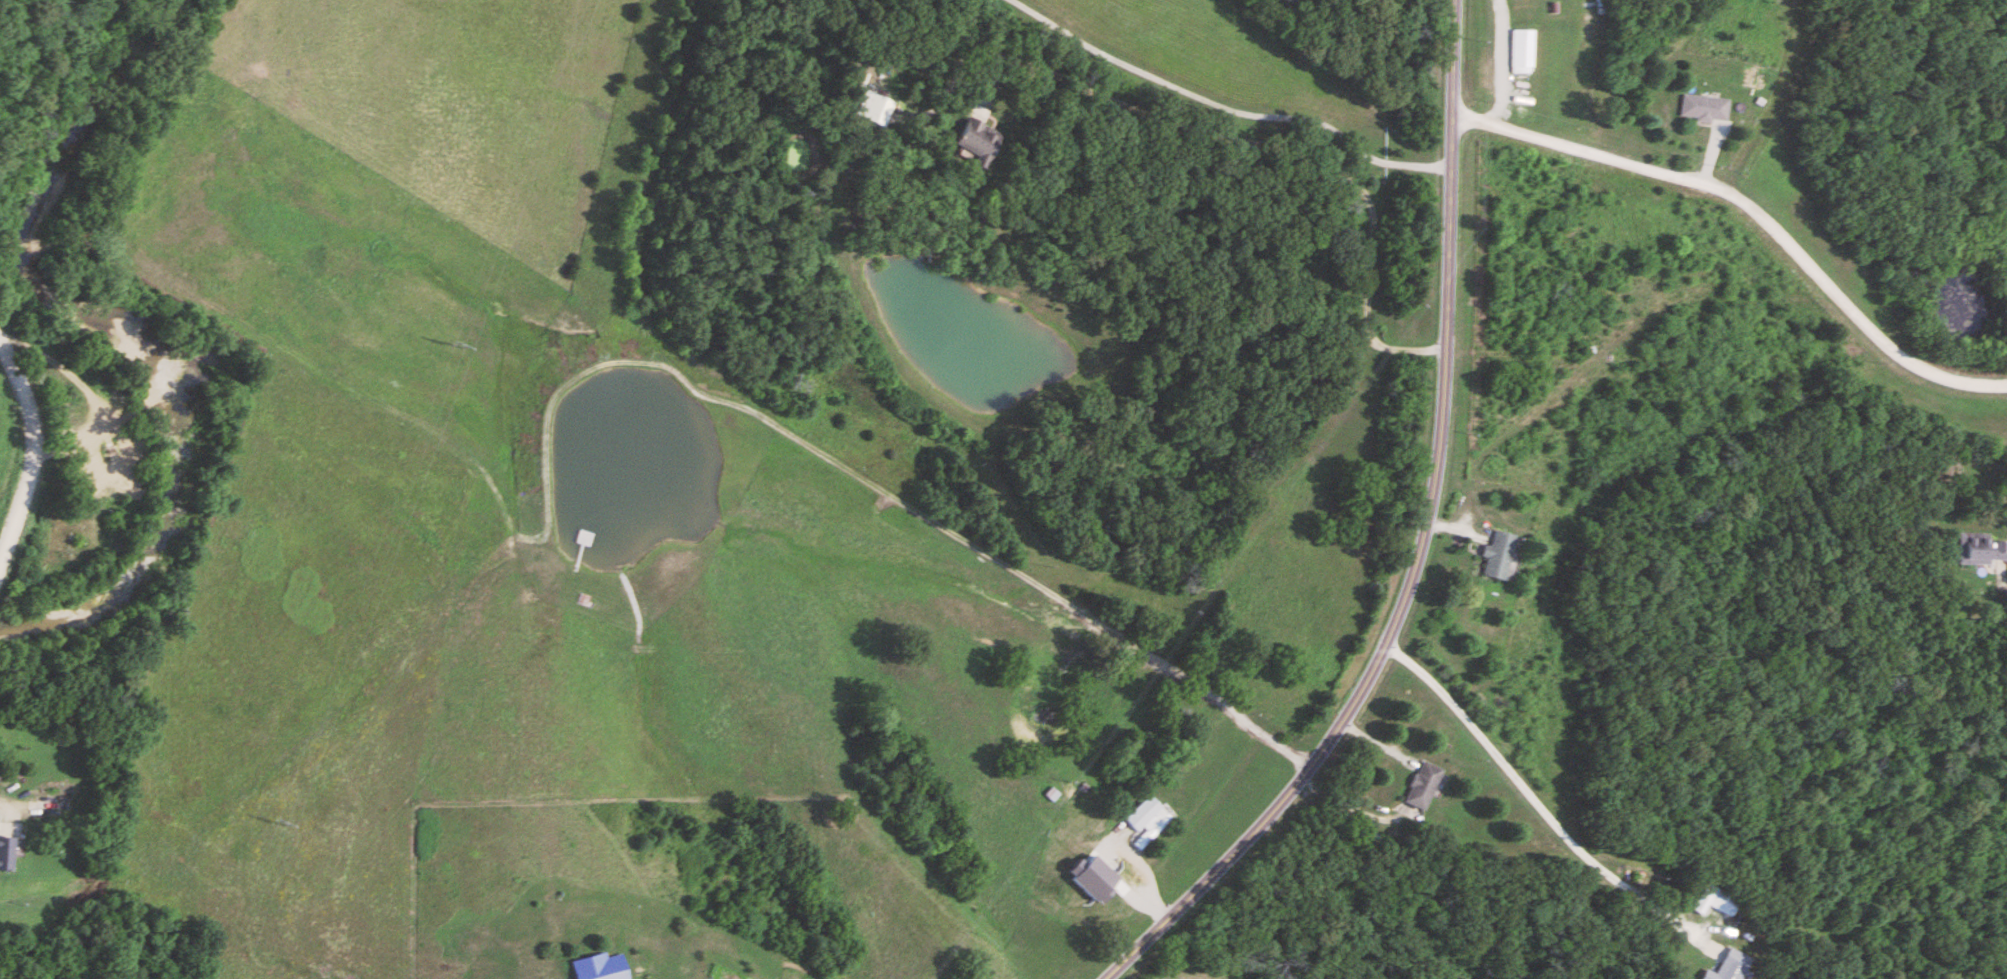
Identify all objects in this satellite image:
building: (1523, 53)
road: (1726, 88)
road: (1221, 106)
building: (1706, 108)
building: (877, 110)
building: (978, 143)
road: (1276, 149)
road: (1750, 211)
power tower: (458, 350)
road: (28, 446)
road: (1420, 544)
building: (1980, 549)
building: (1497, 556)
building: (1423, 786)
road: (1531, 797)
building: (1148, 820)
power tower: (285, 825)
building: (8, 855)
building: (1715, 900)
building: (1729, 967)
building: (602, 969)

